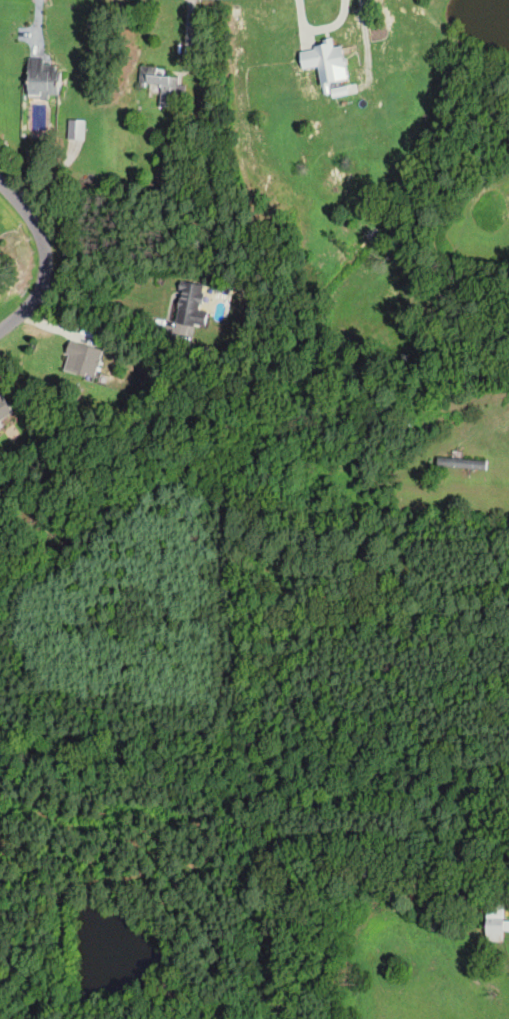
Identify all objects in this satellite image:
building: (40, 78)
building: (163, 85)
road: (44, 259)
road: (104, 304)
building: (190, 306)
building: (81, 360)
road: (409, 389)
building: (4, 410)
building: (461, 463)
road: (498, 880)
building: (494, 925)

